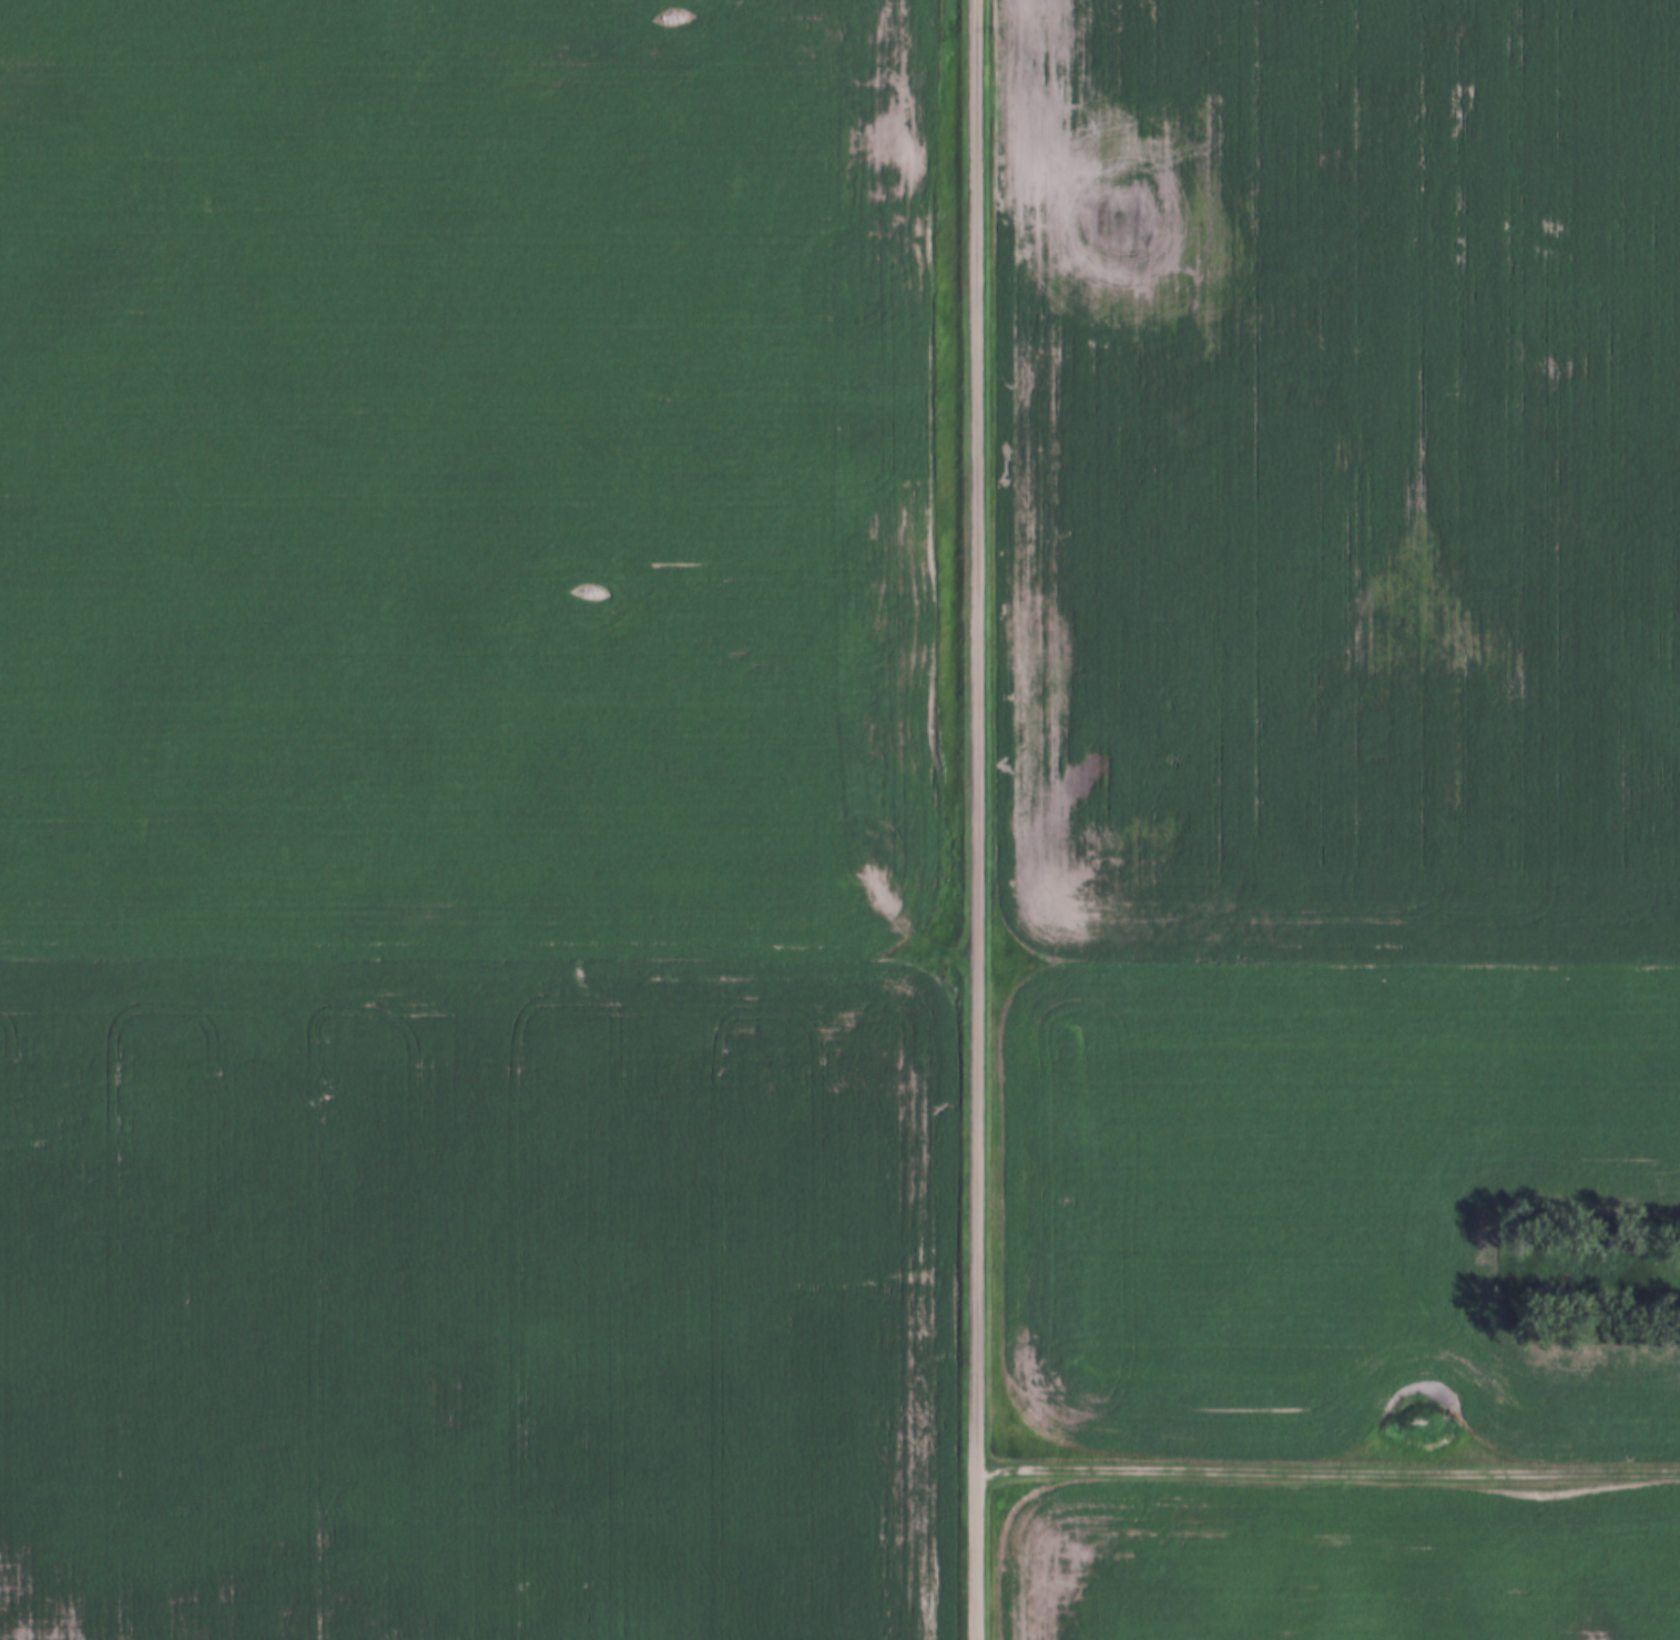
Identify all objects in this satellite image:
road: (975, 819)
road: (1326, 1471)

